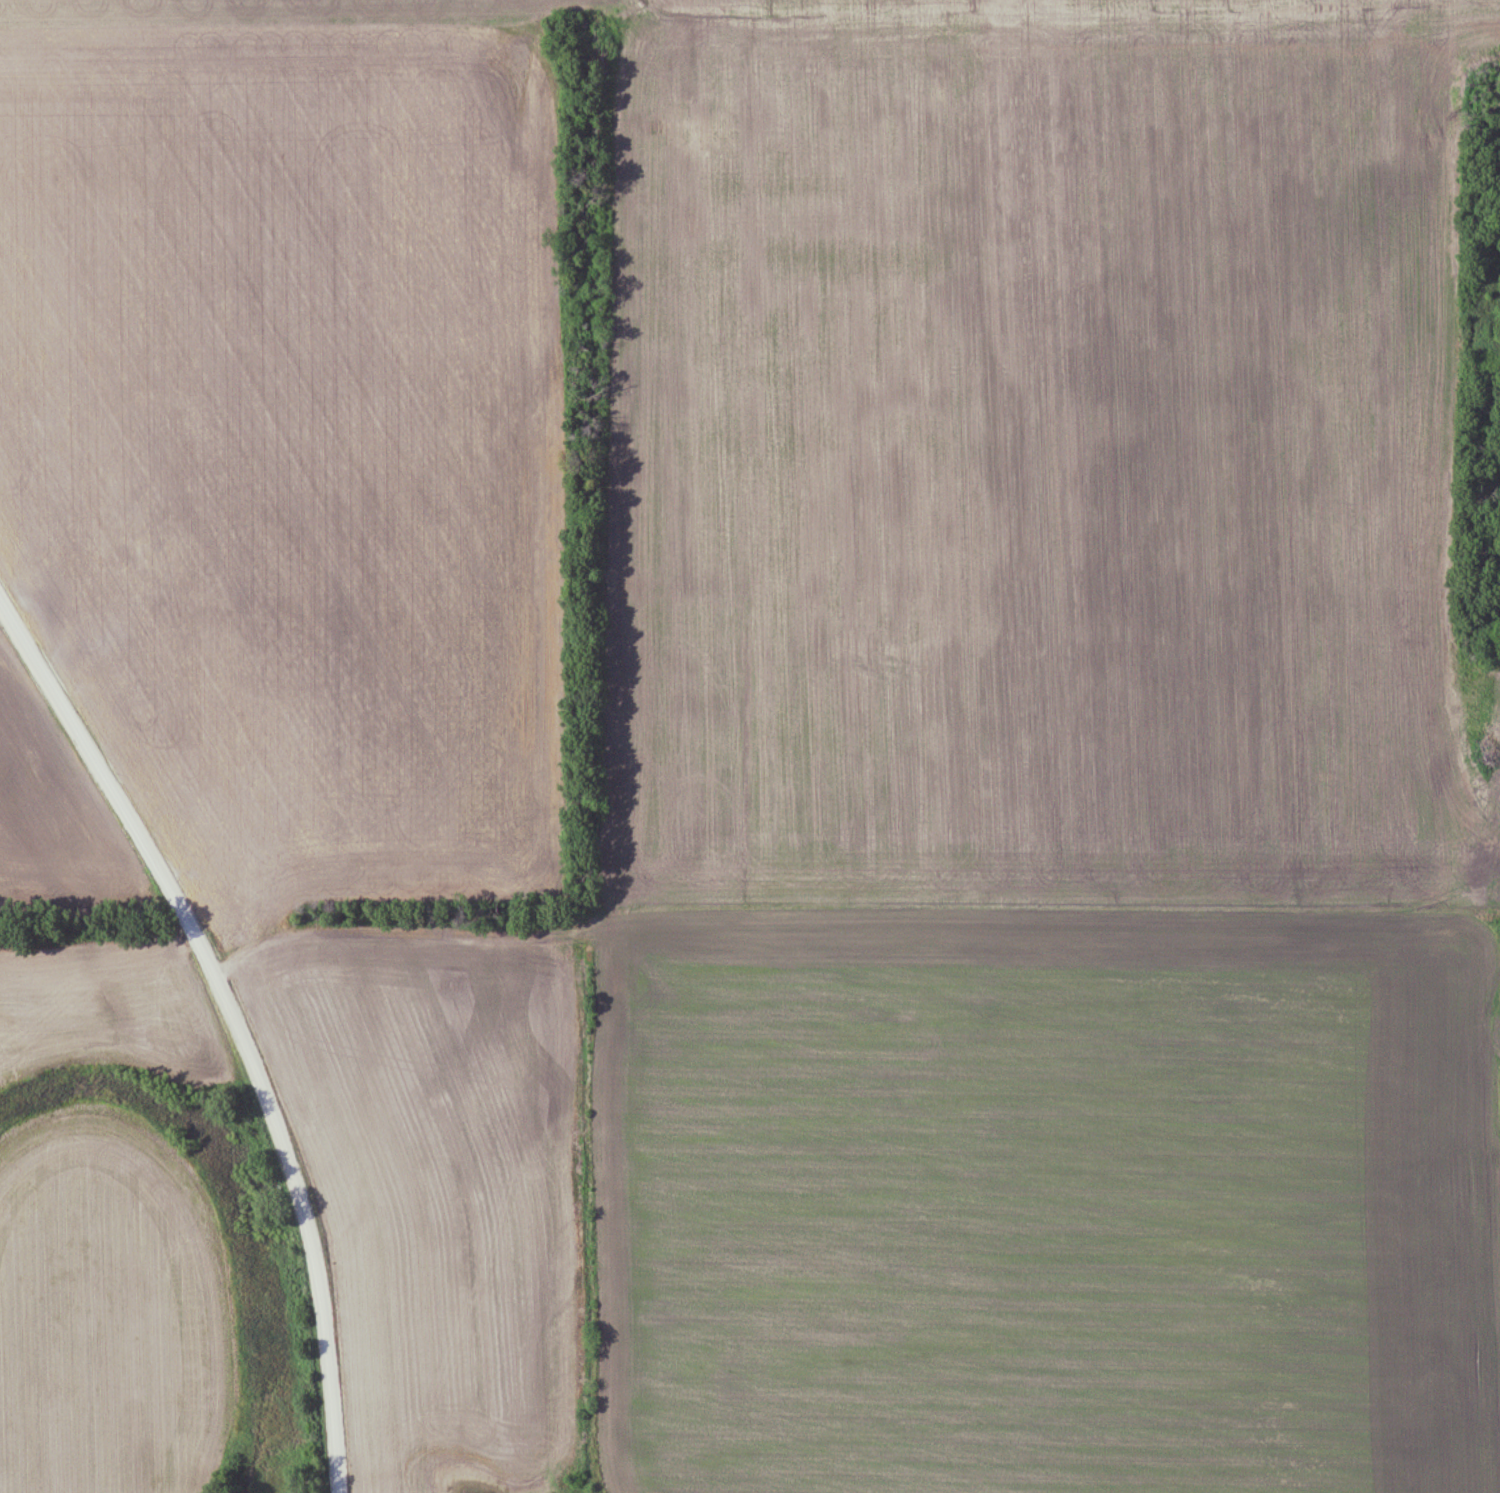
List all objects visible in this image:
road: (233, 1023)

